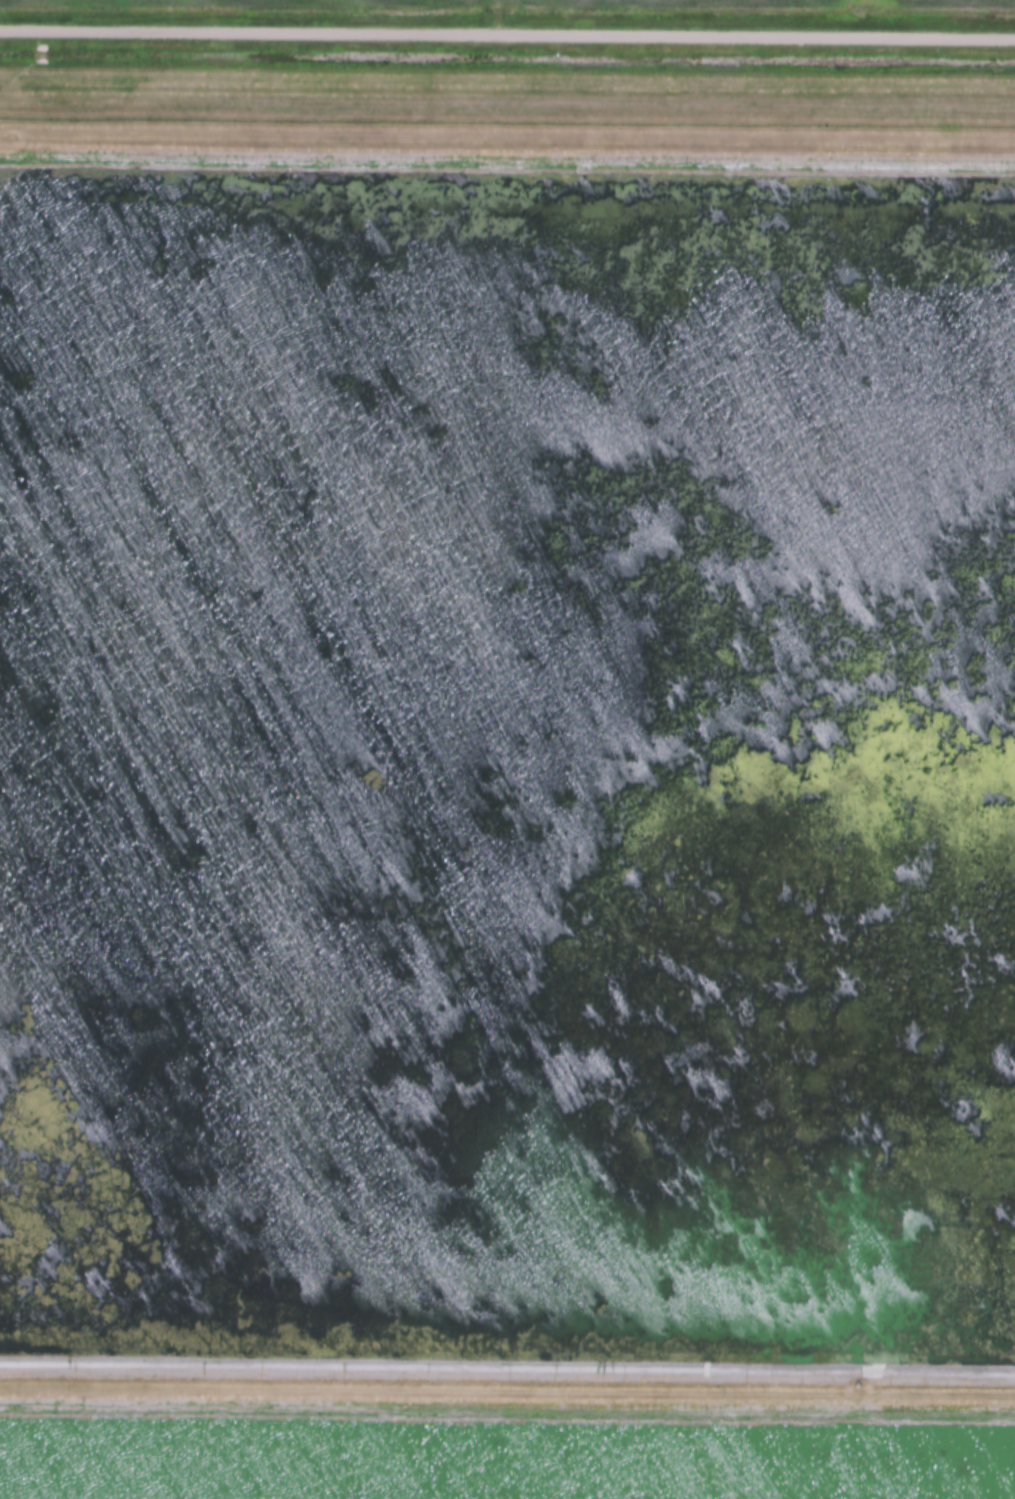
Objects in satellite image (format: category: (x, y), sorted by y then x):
crop: (545, 5)
road: (507, 37)
wastewater plant: (507, 811)

